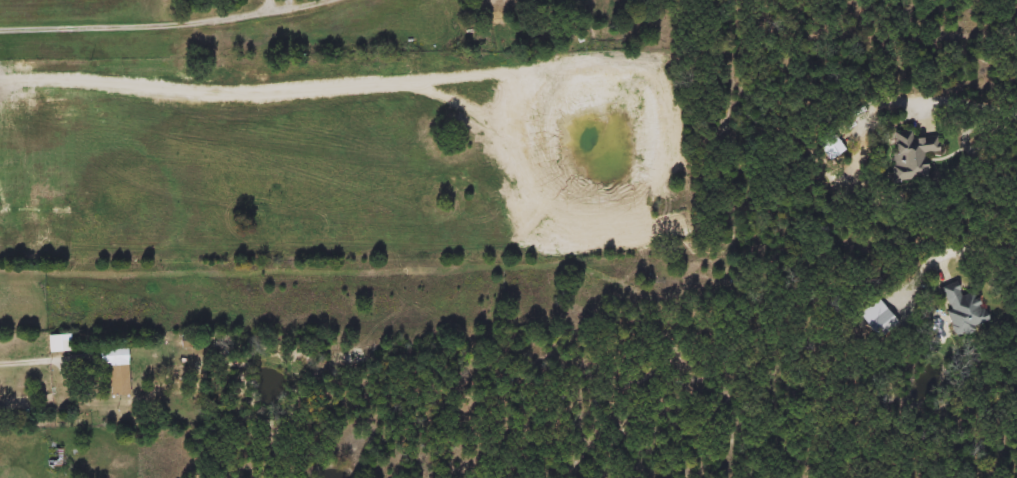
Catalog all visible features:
road: (167, 24)
road: (963, 103)
building: (830, 145)
building: (913, 155)
road: (979, 250)
building: (964, 308)
building: (879, 319)
road: (53, 361)
building: (118, 380)
building: (55, 458)

